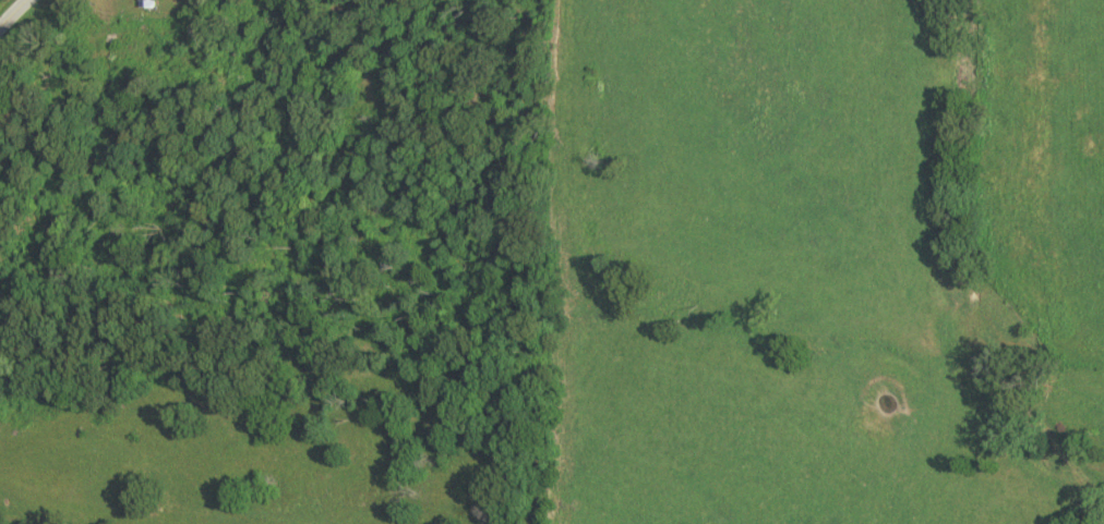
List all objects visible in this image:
road: (10, 10)

